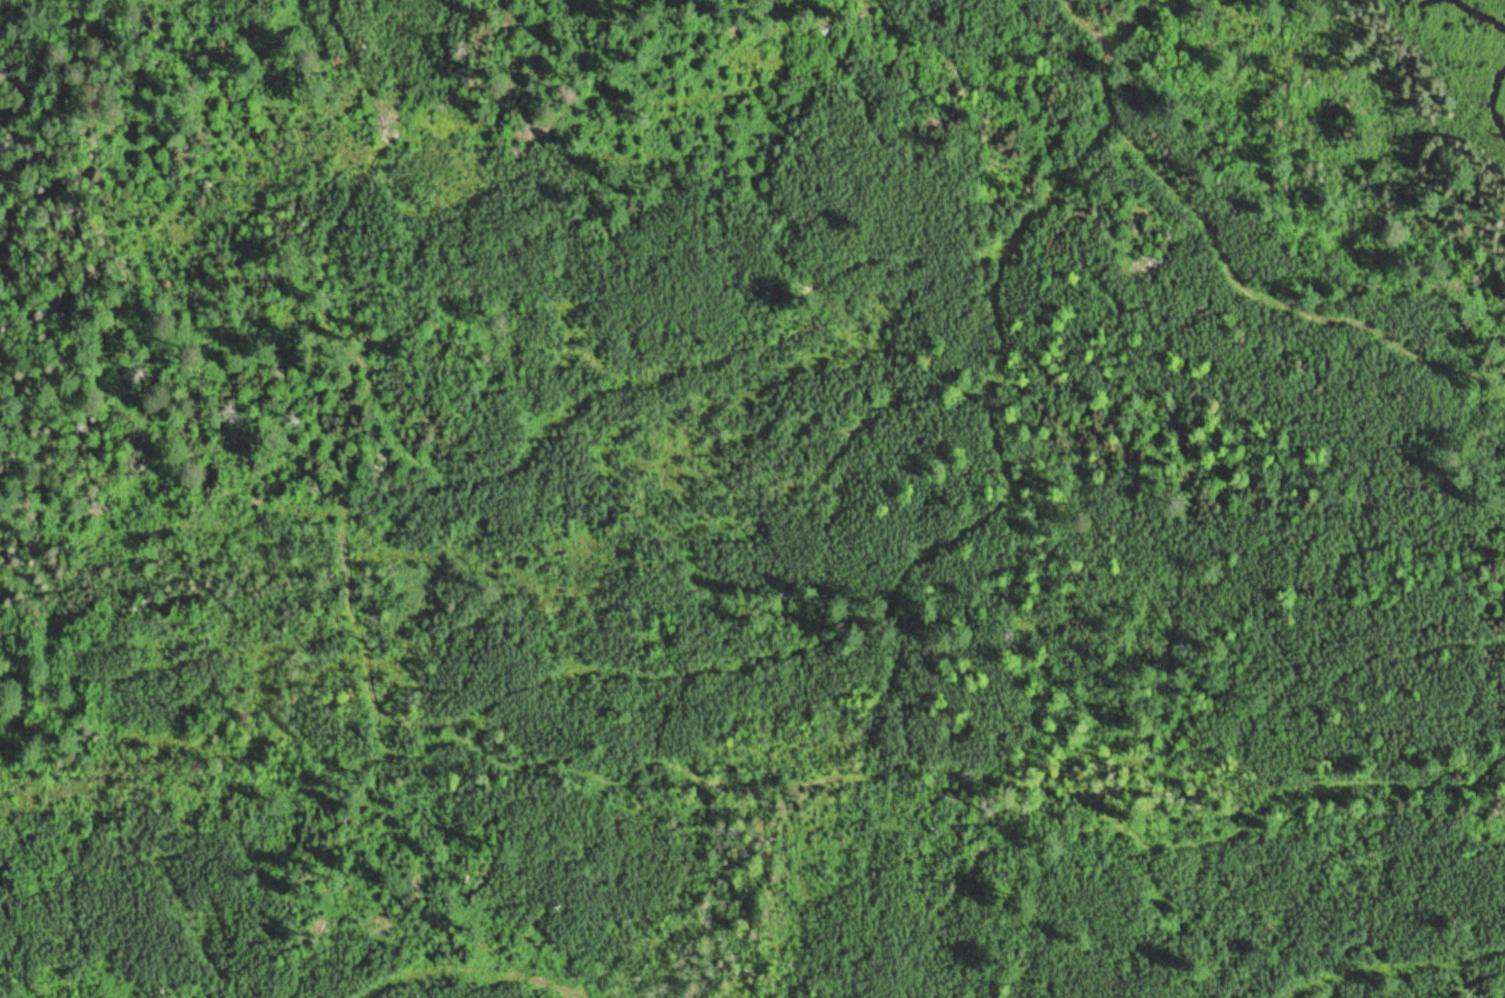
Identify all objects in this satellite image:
road: (1104, 121)

